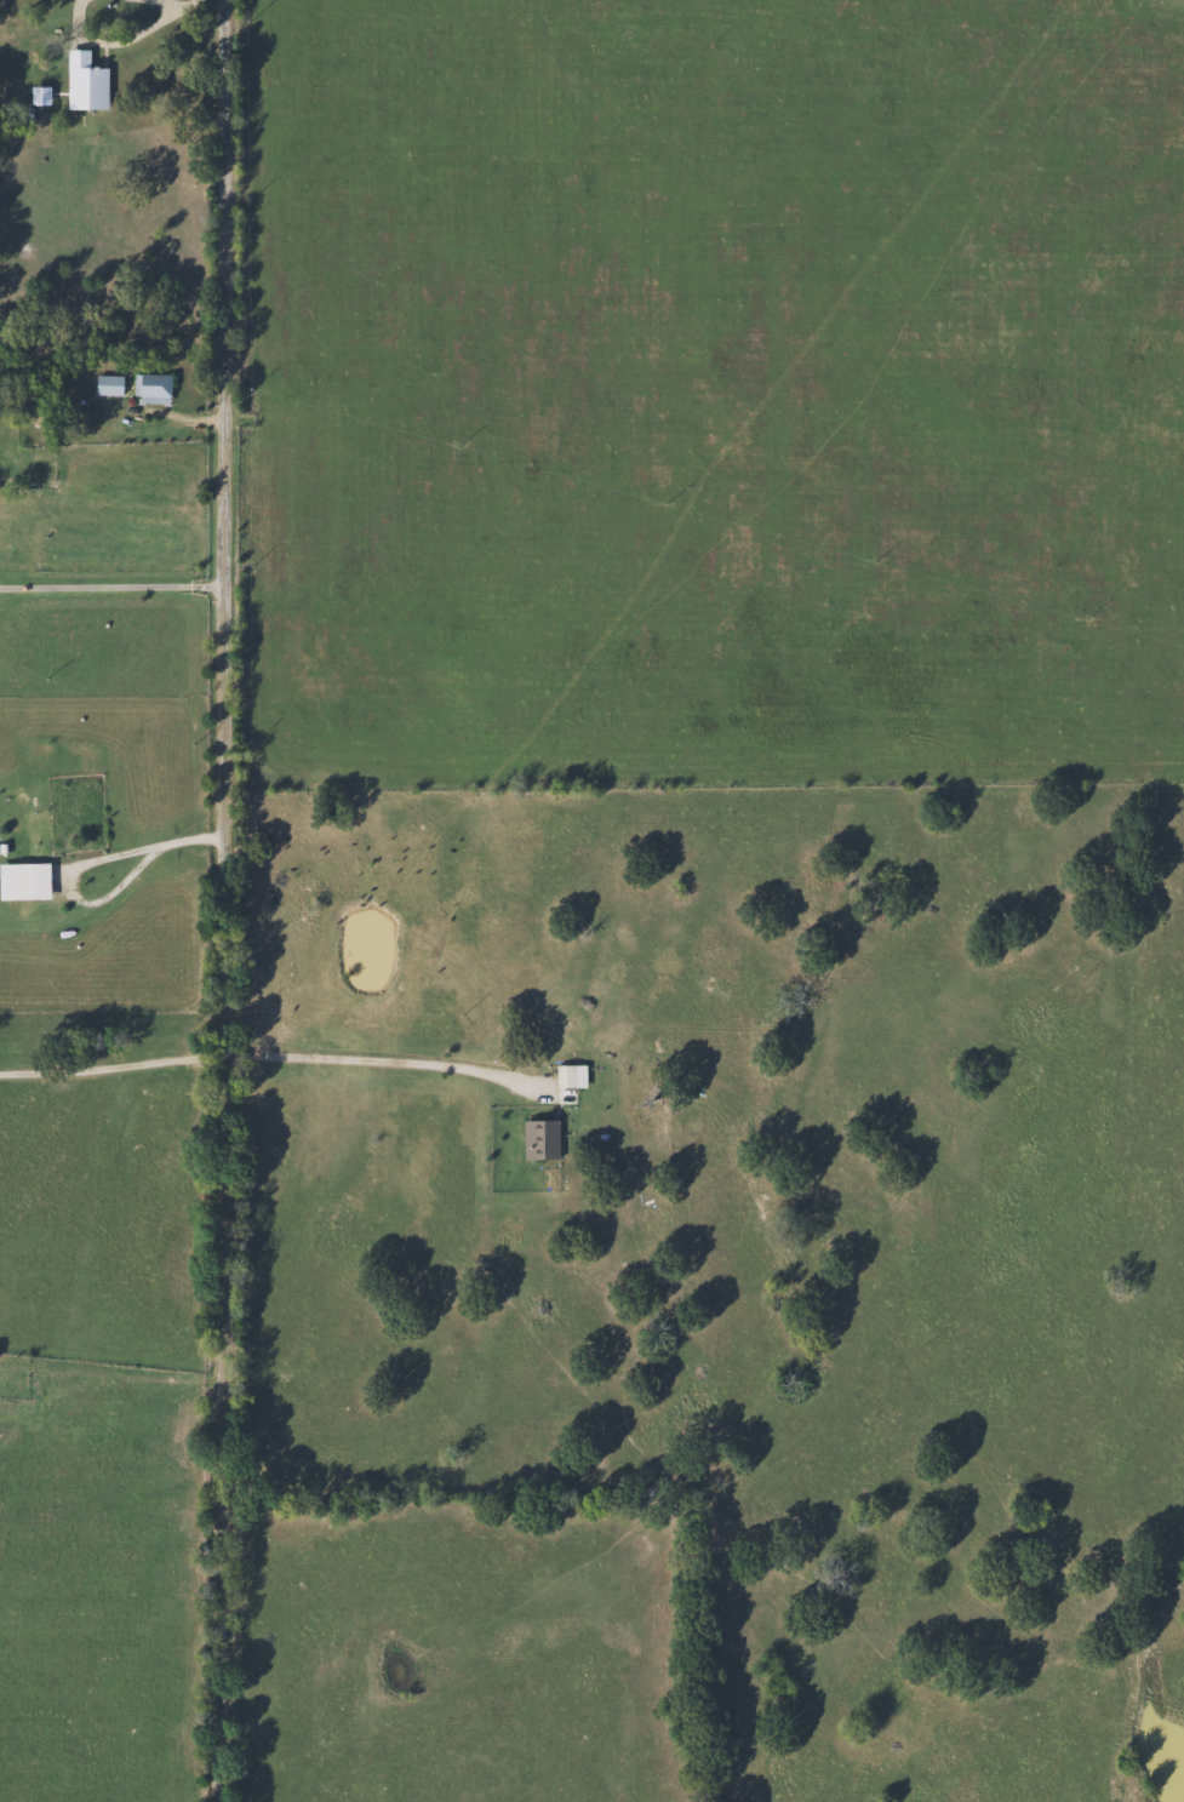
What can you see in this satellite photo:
road: (170, 2)
road: (185, 2)
road: (120, 40)
building: (97, 79)
building: (107, 385)
building: (150, 385)
building: (40, 418)
road: (113, 590)
building: (36, 834)
road: (81, 862)
road: (227, 900)
road: (382, 1064)
road: (114, 1068)
road: (111, 1373)

